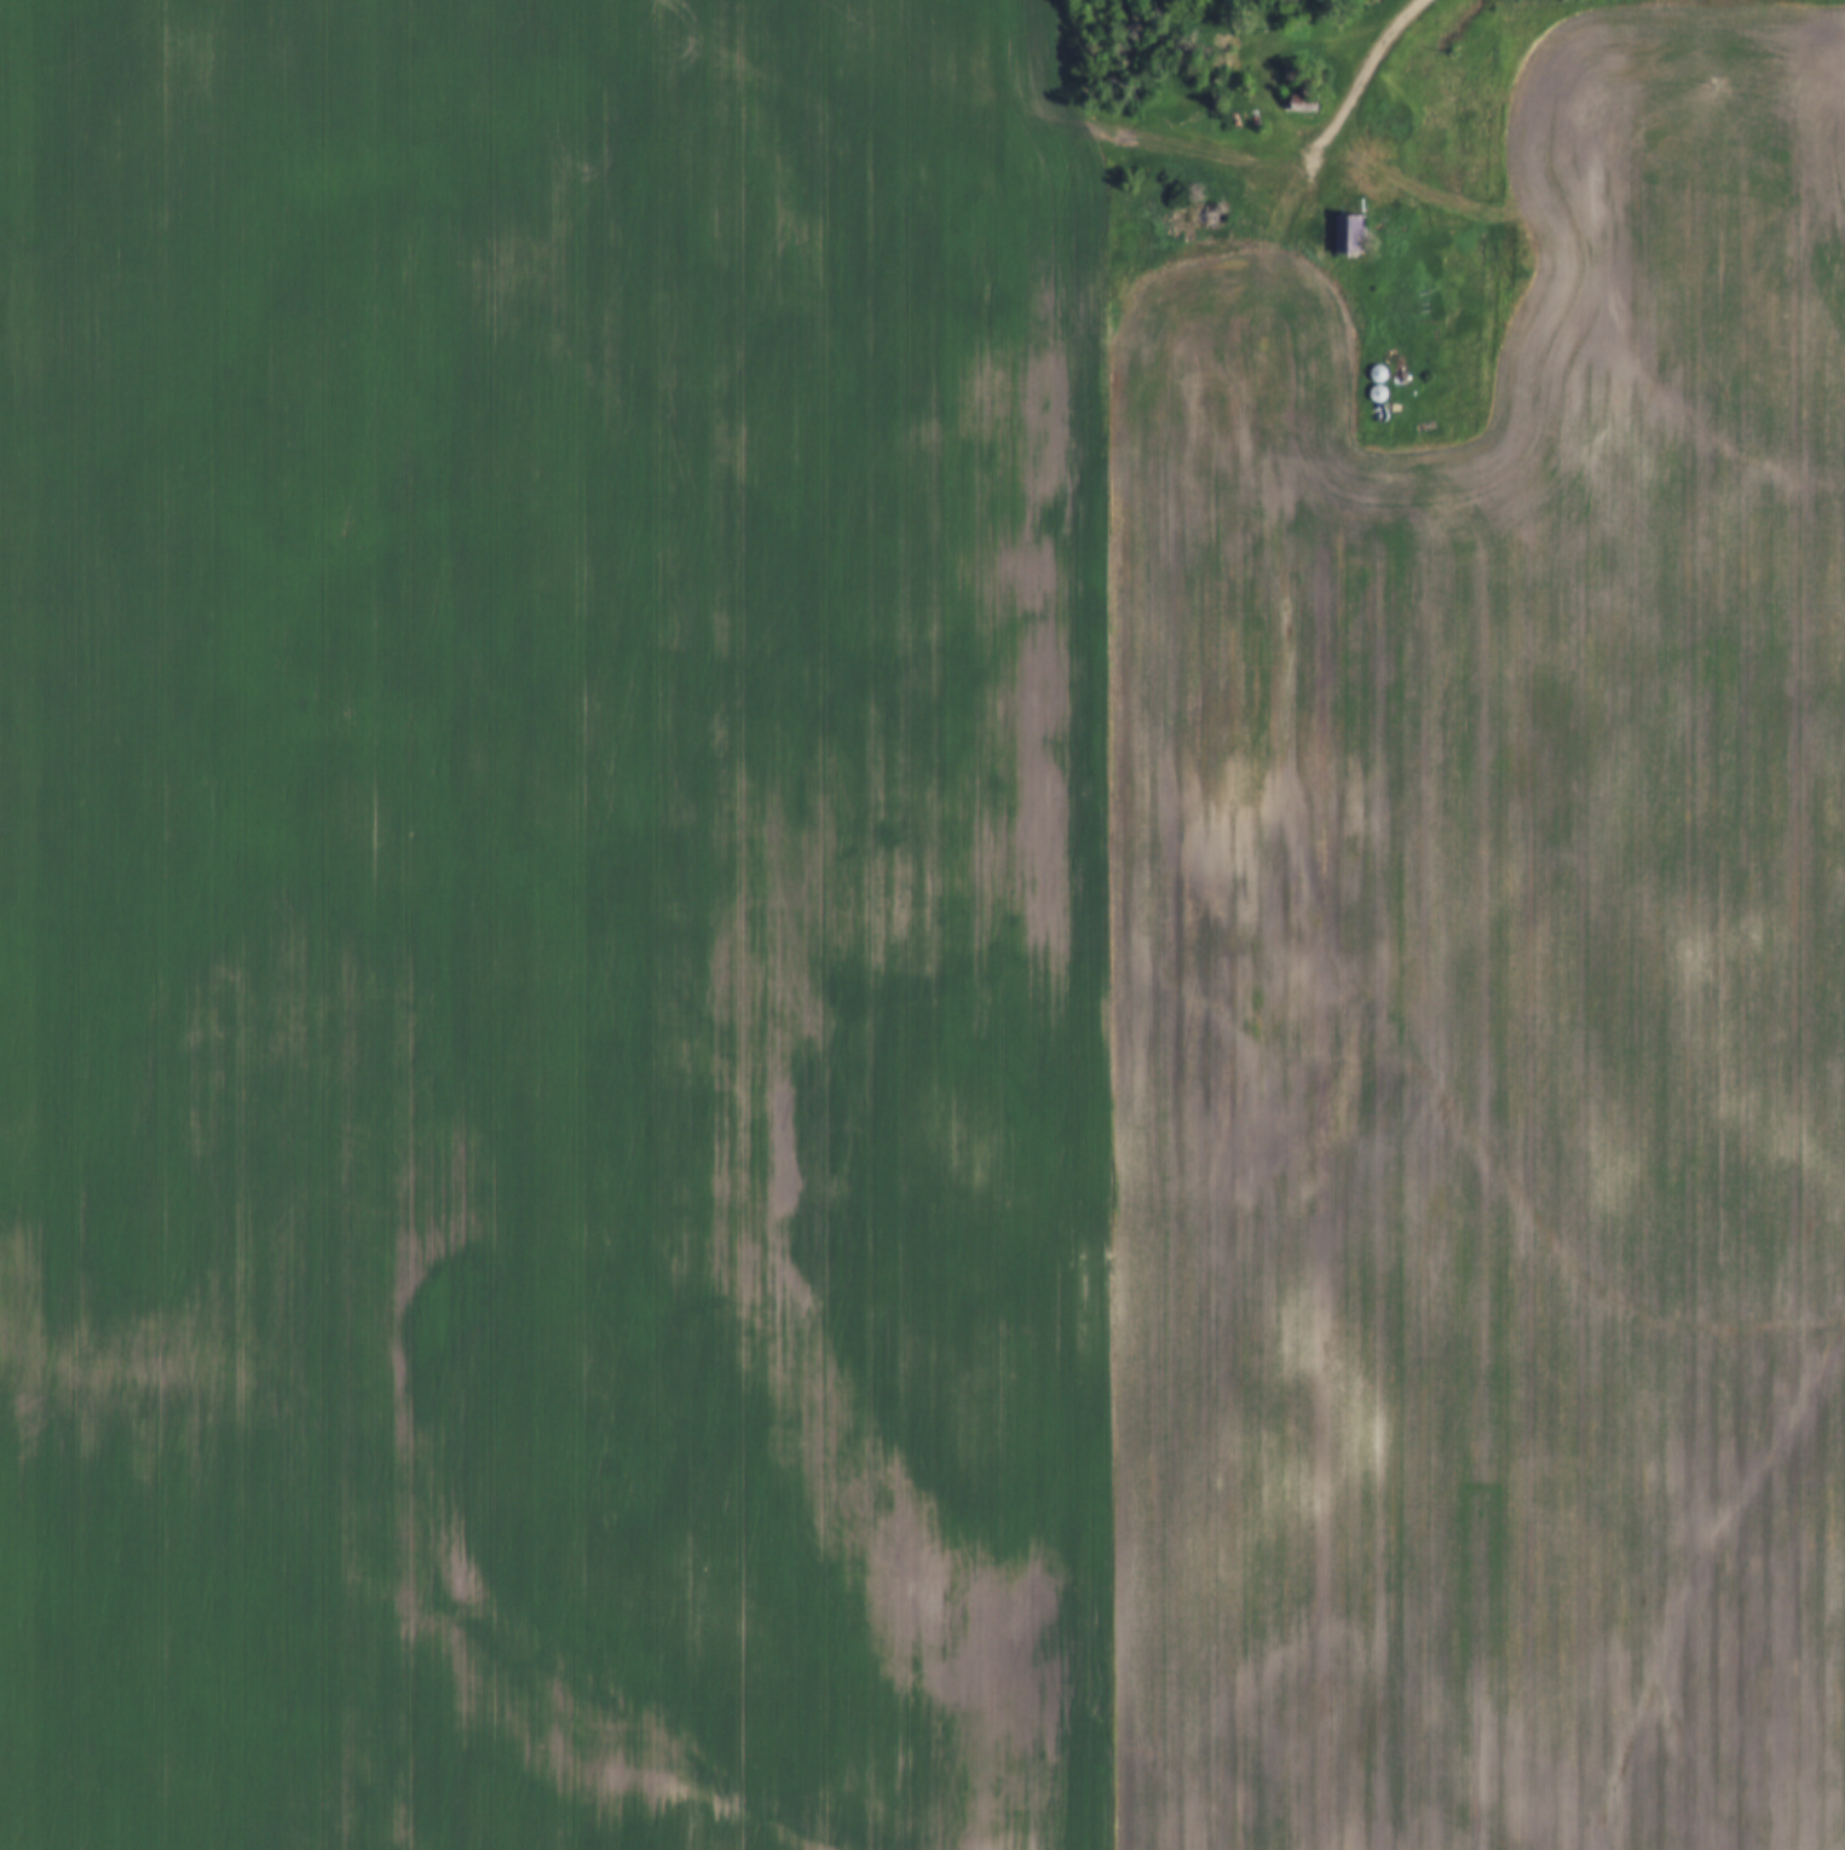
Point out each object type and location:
road: (1359, 83)
building: (1349, 236)

